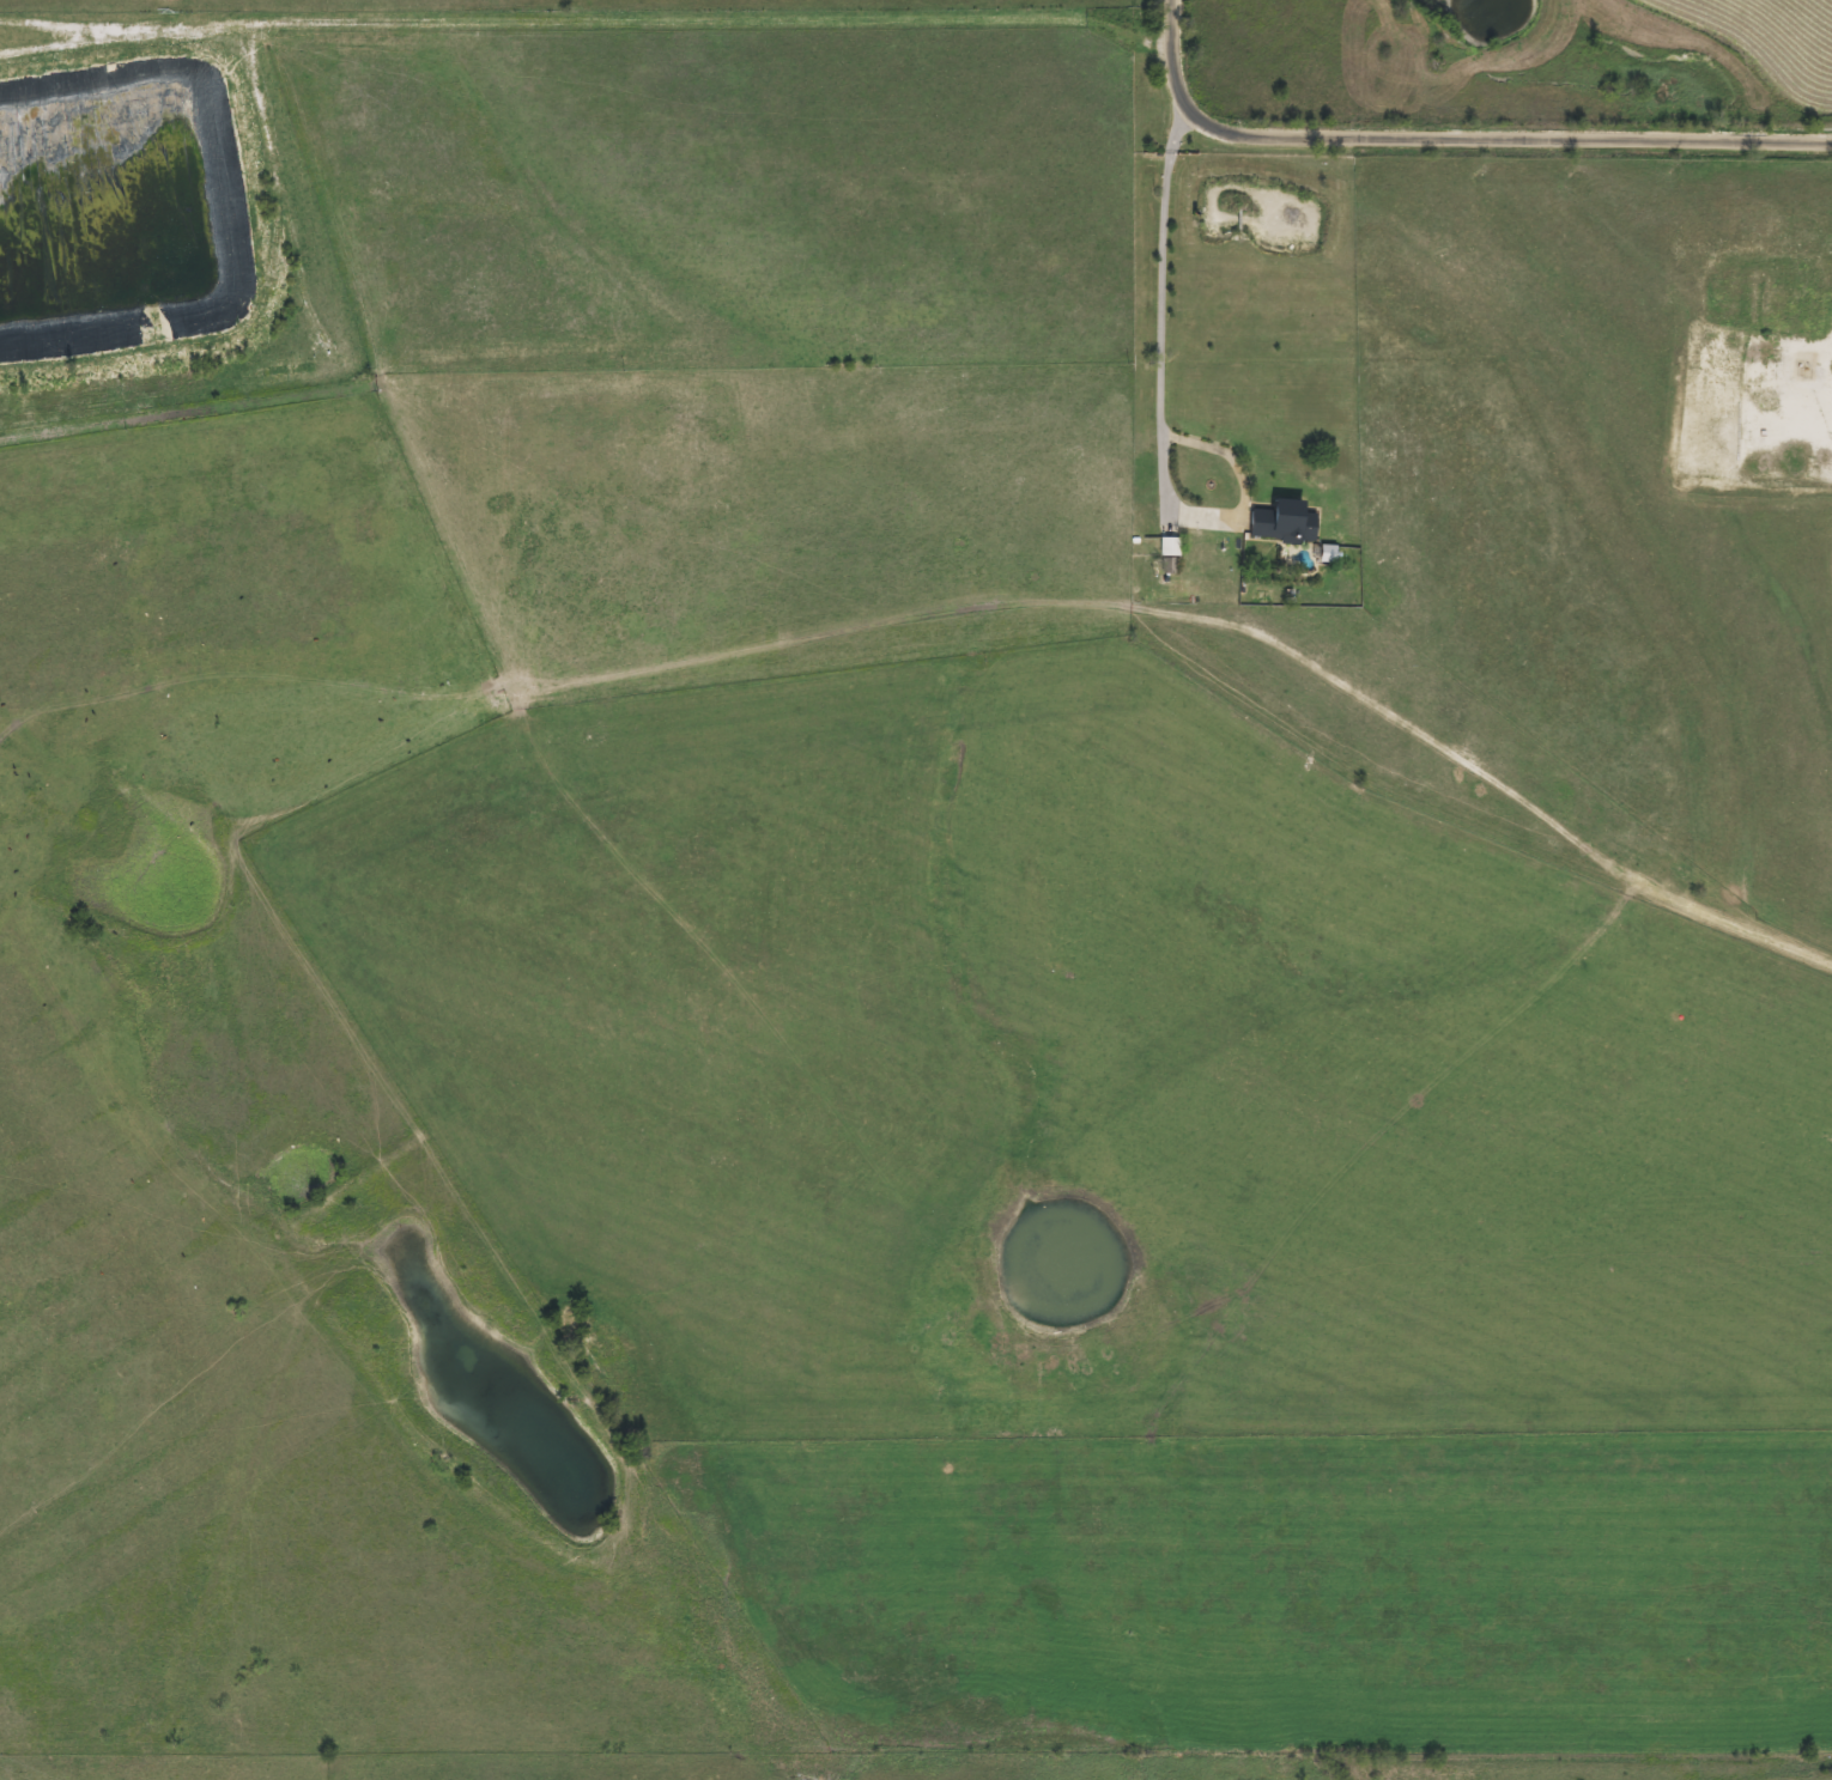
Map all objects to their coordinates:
road: (1445, 134)
road: (1157, 411)
building: (1279, 522)
building: (1166, 547)
road: (1482, 769)

